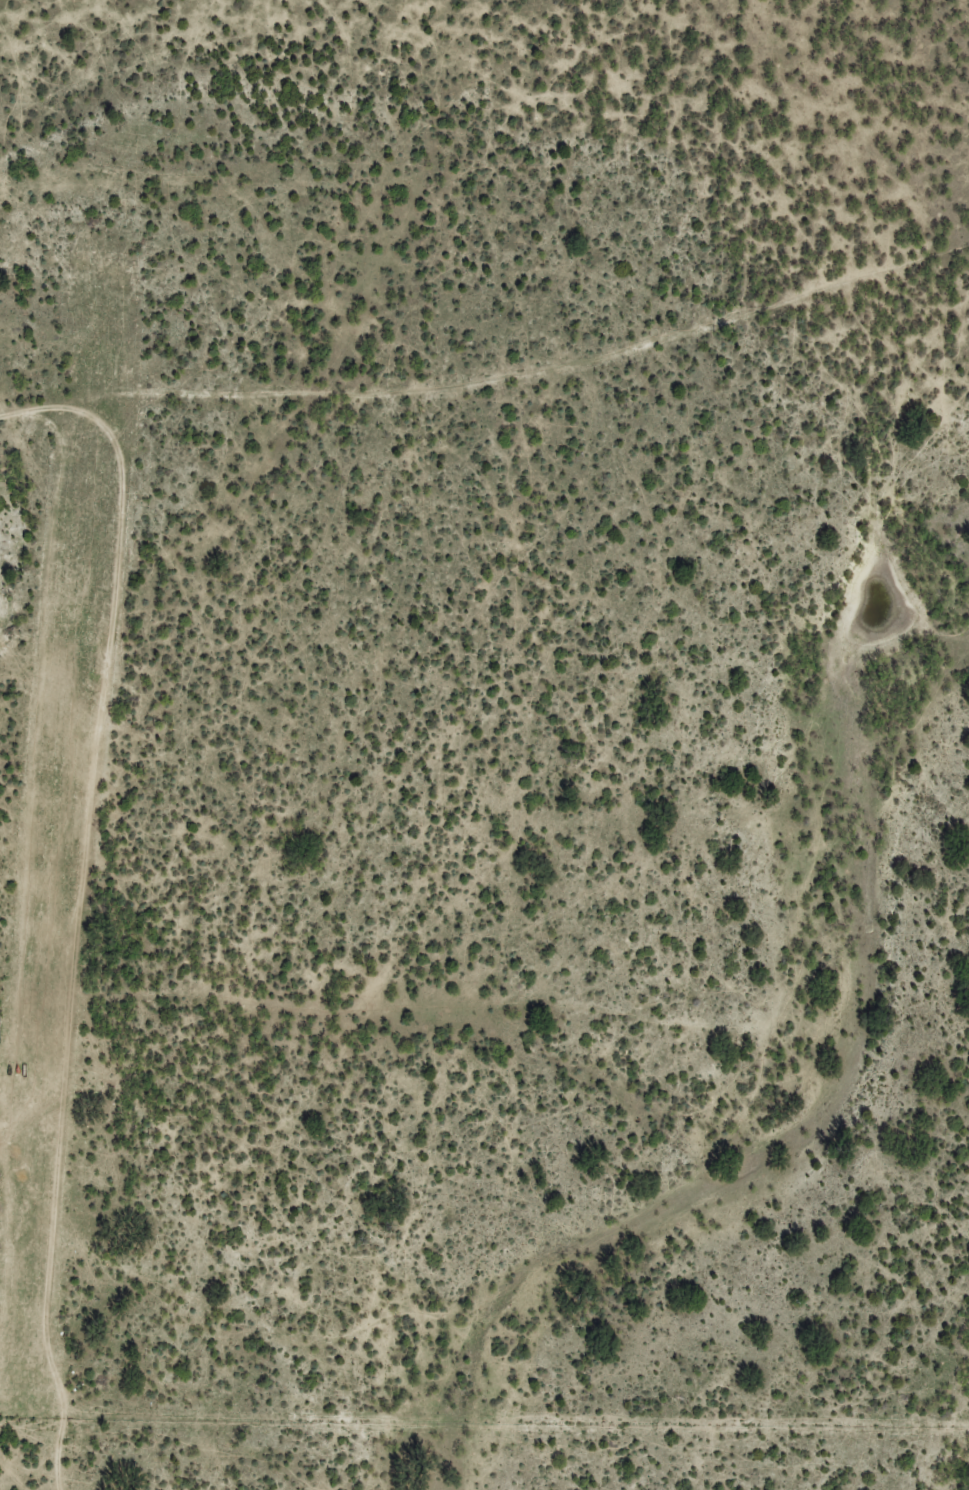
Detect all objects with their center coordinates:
road: (492, 393)
road: (966, 646)
road: (32, 1341)

